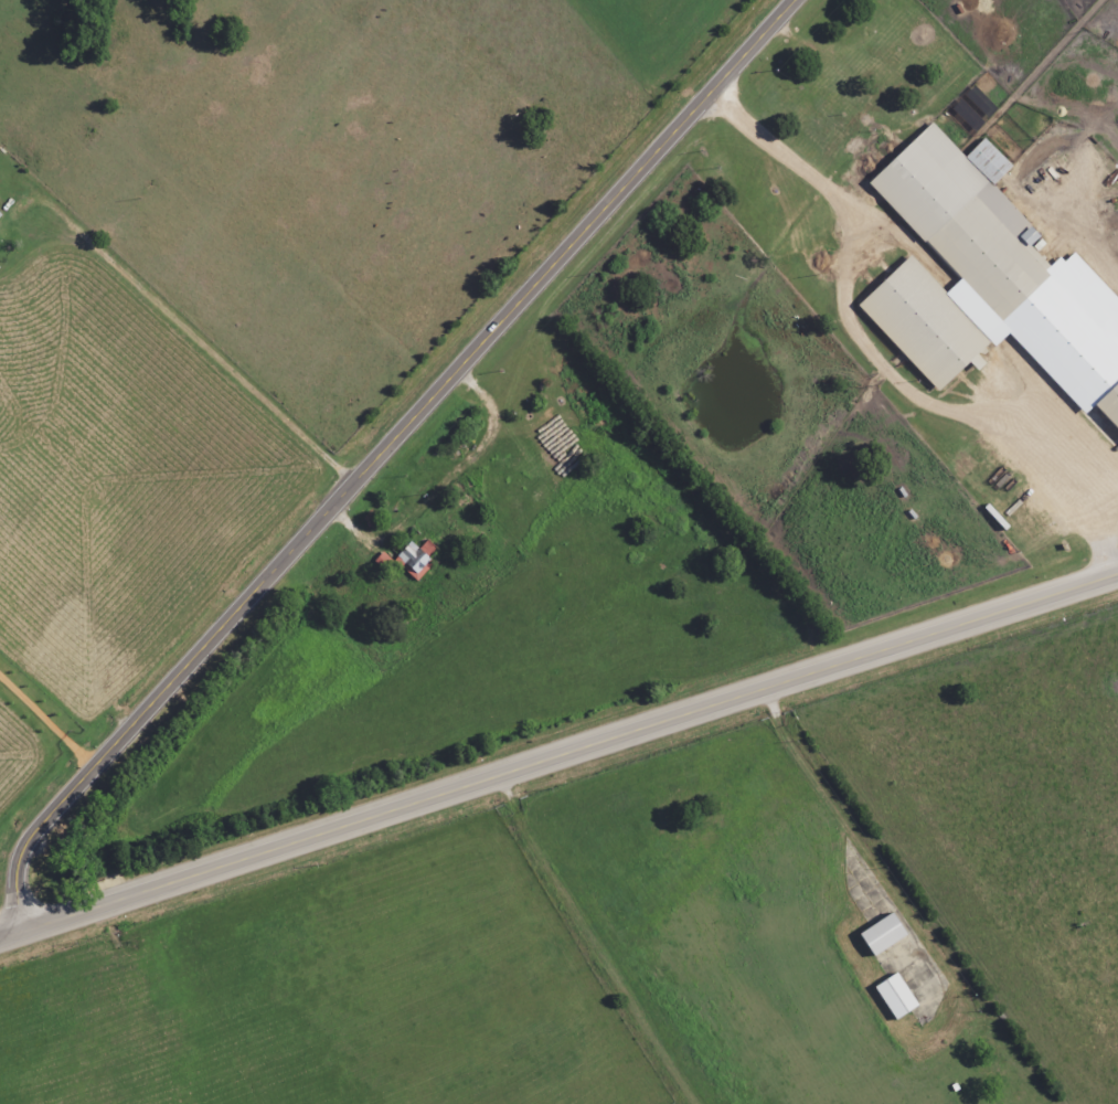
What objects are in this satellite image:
building: (968, 115)
building: (0, 215)
building: (989, 279)
road: (204, 354)
road: (379, 453)
building: (417, 559)
road: (558, 756)
building: (883, 934)
road: (557, 954)
building: (896, 997)

